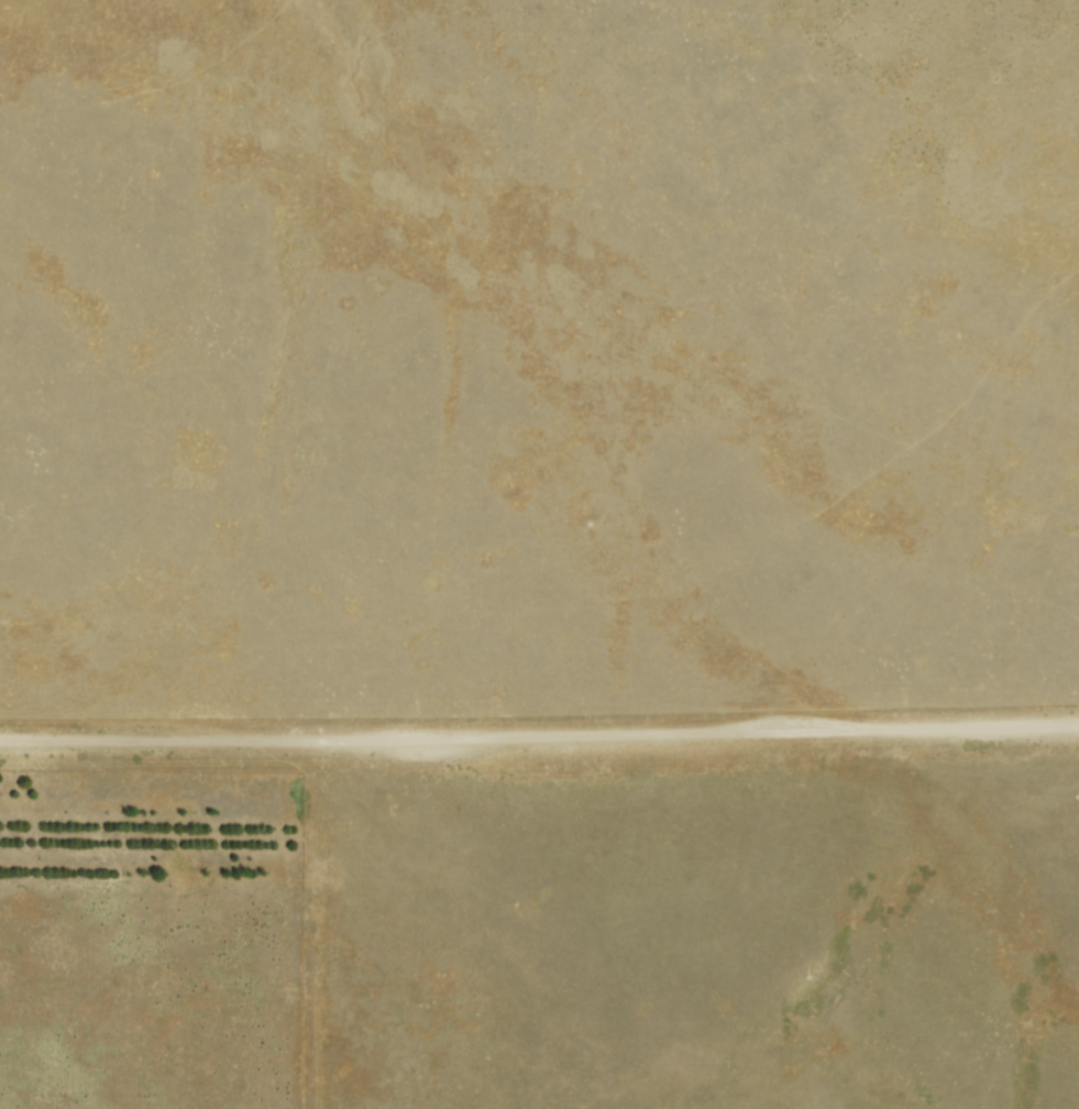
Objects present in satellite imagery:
road: (539, 736)
crop: (144, 992)

